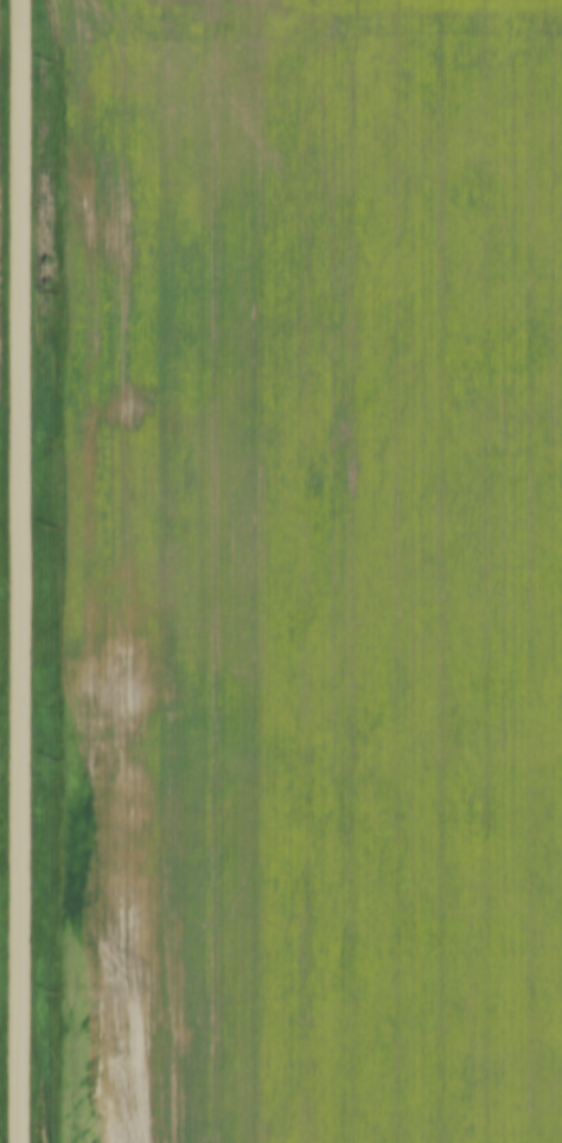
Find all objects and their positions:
road: (19, 571)

